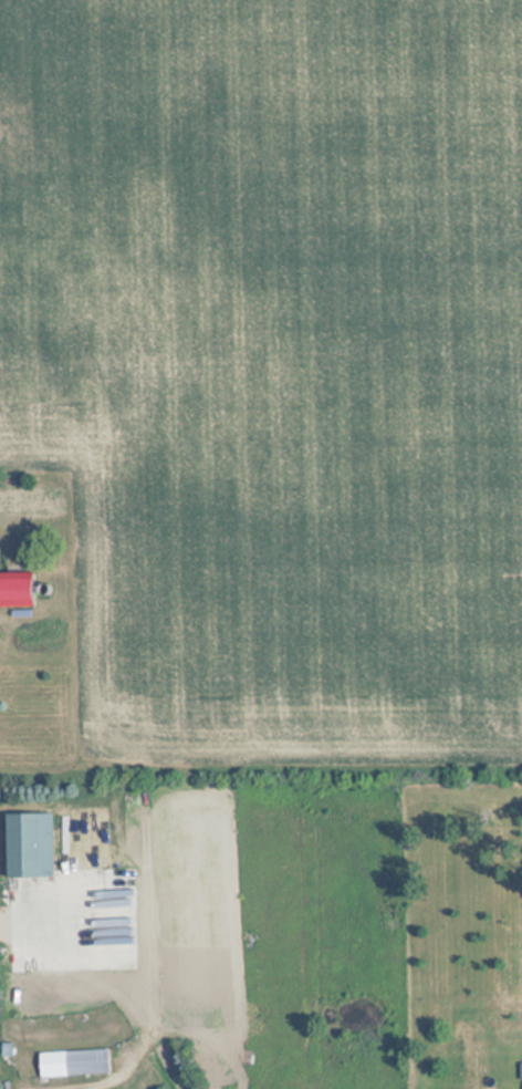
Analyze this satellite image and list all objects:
building: (13, 591)
building: (72, 1064)

